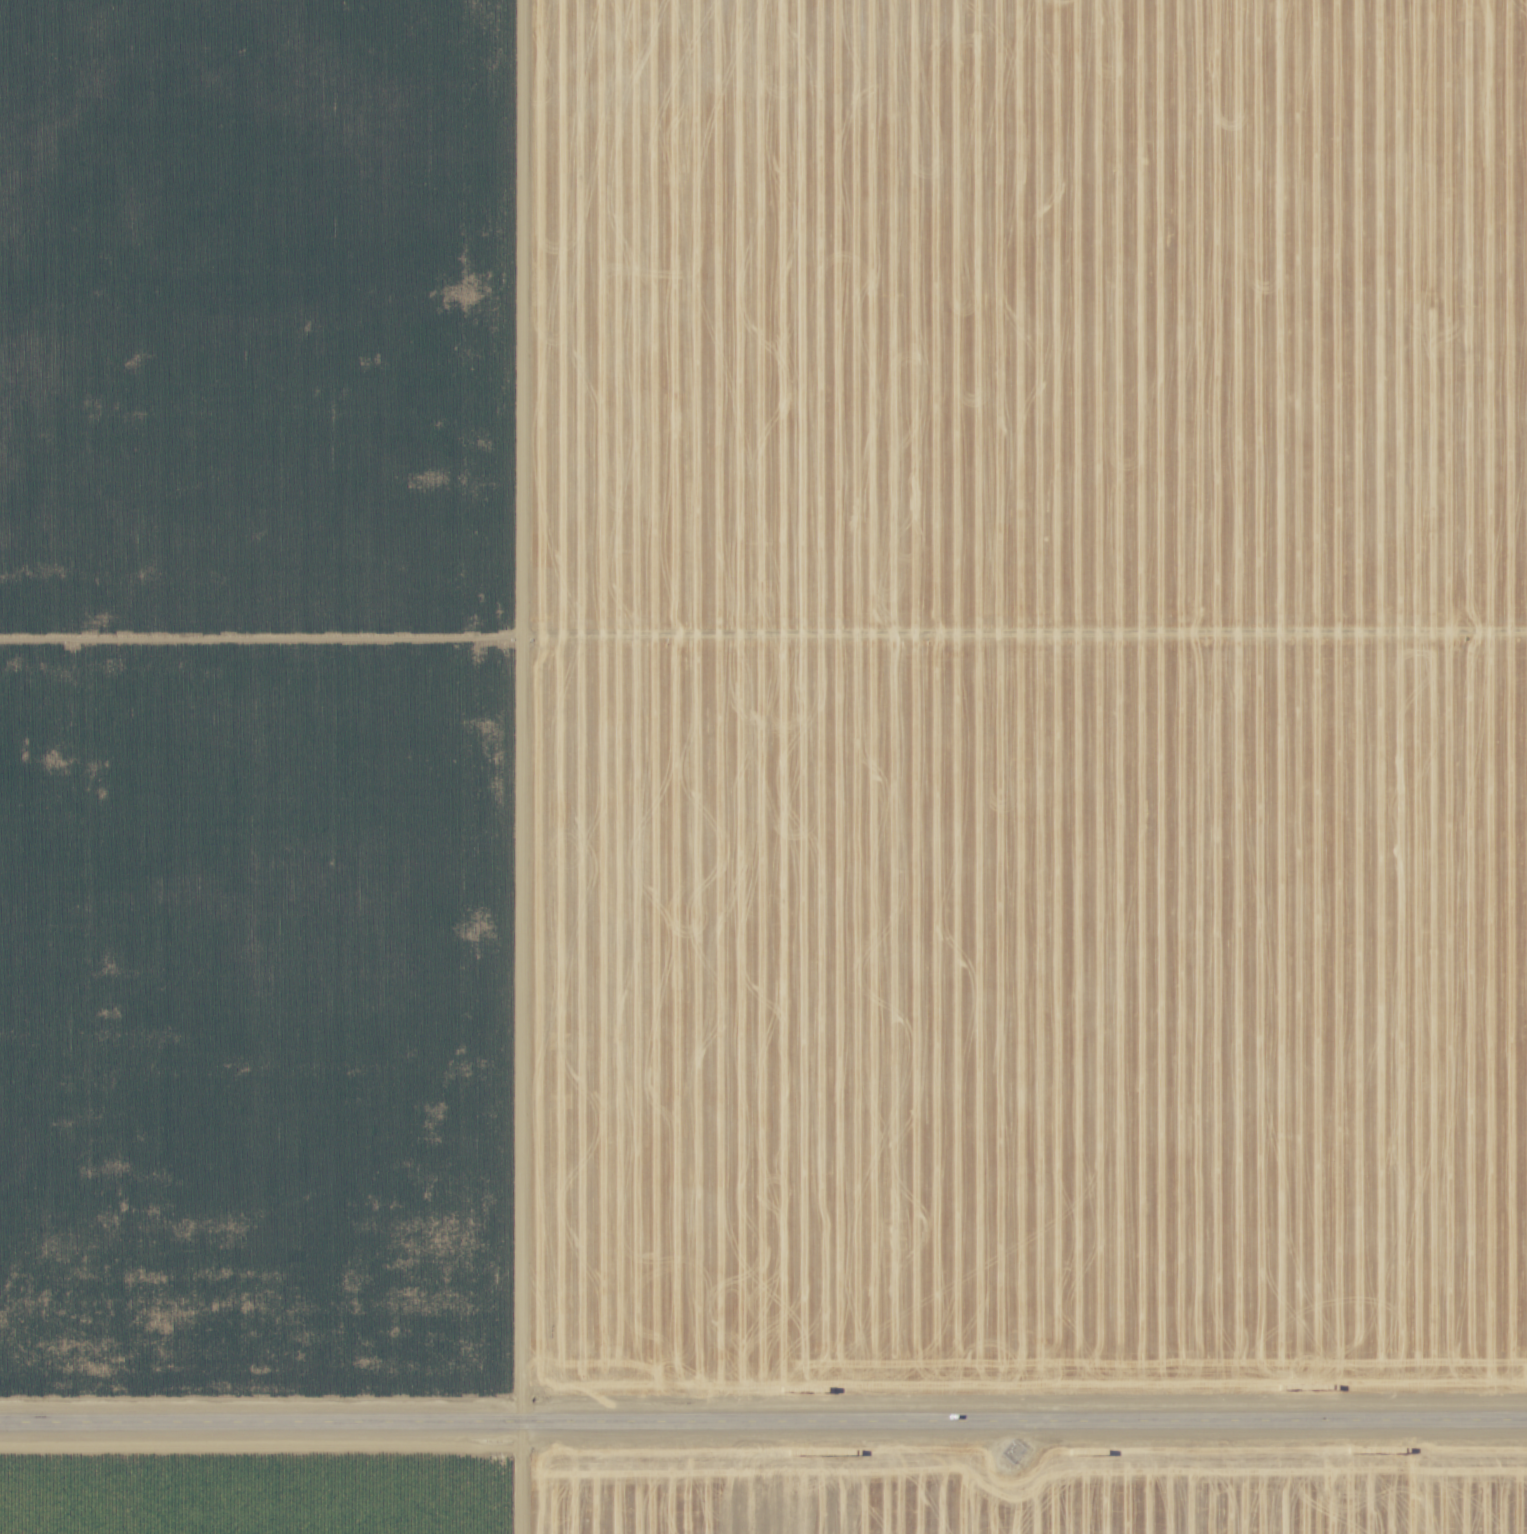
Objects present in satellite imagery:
road: (763, 1431)

